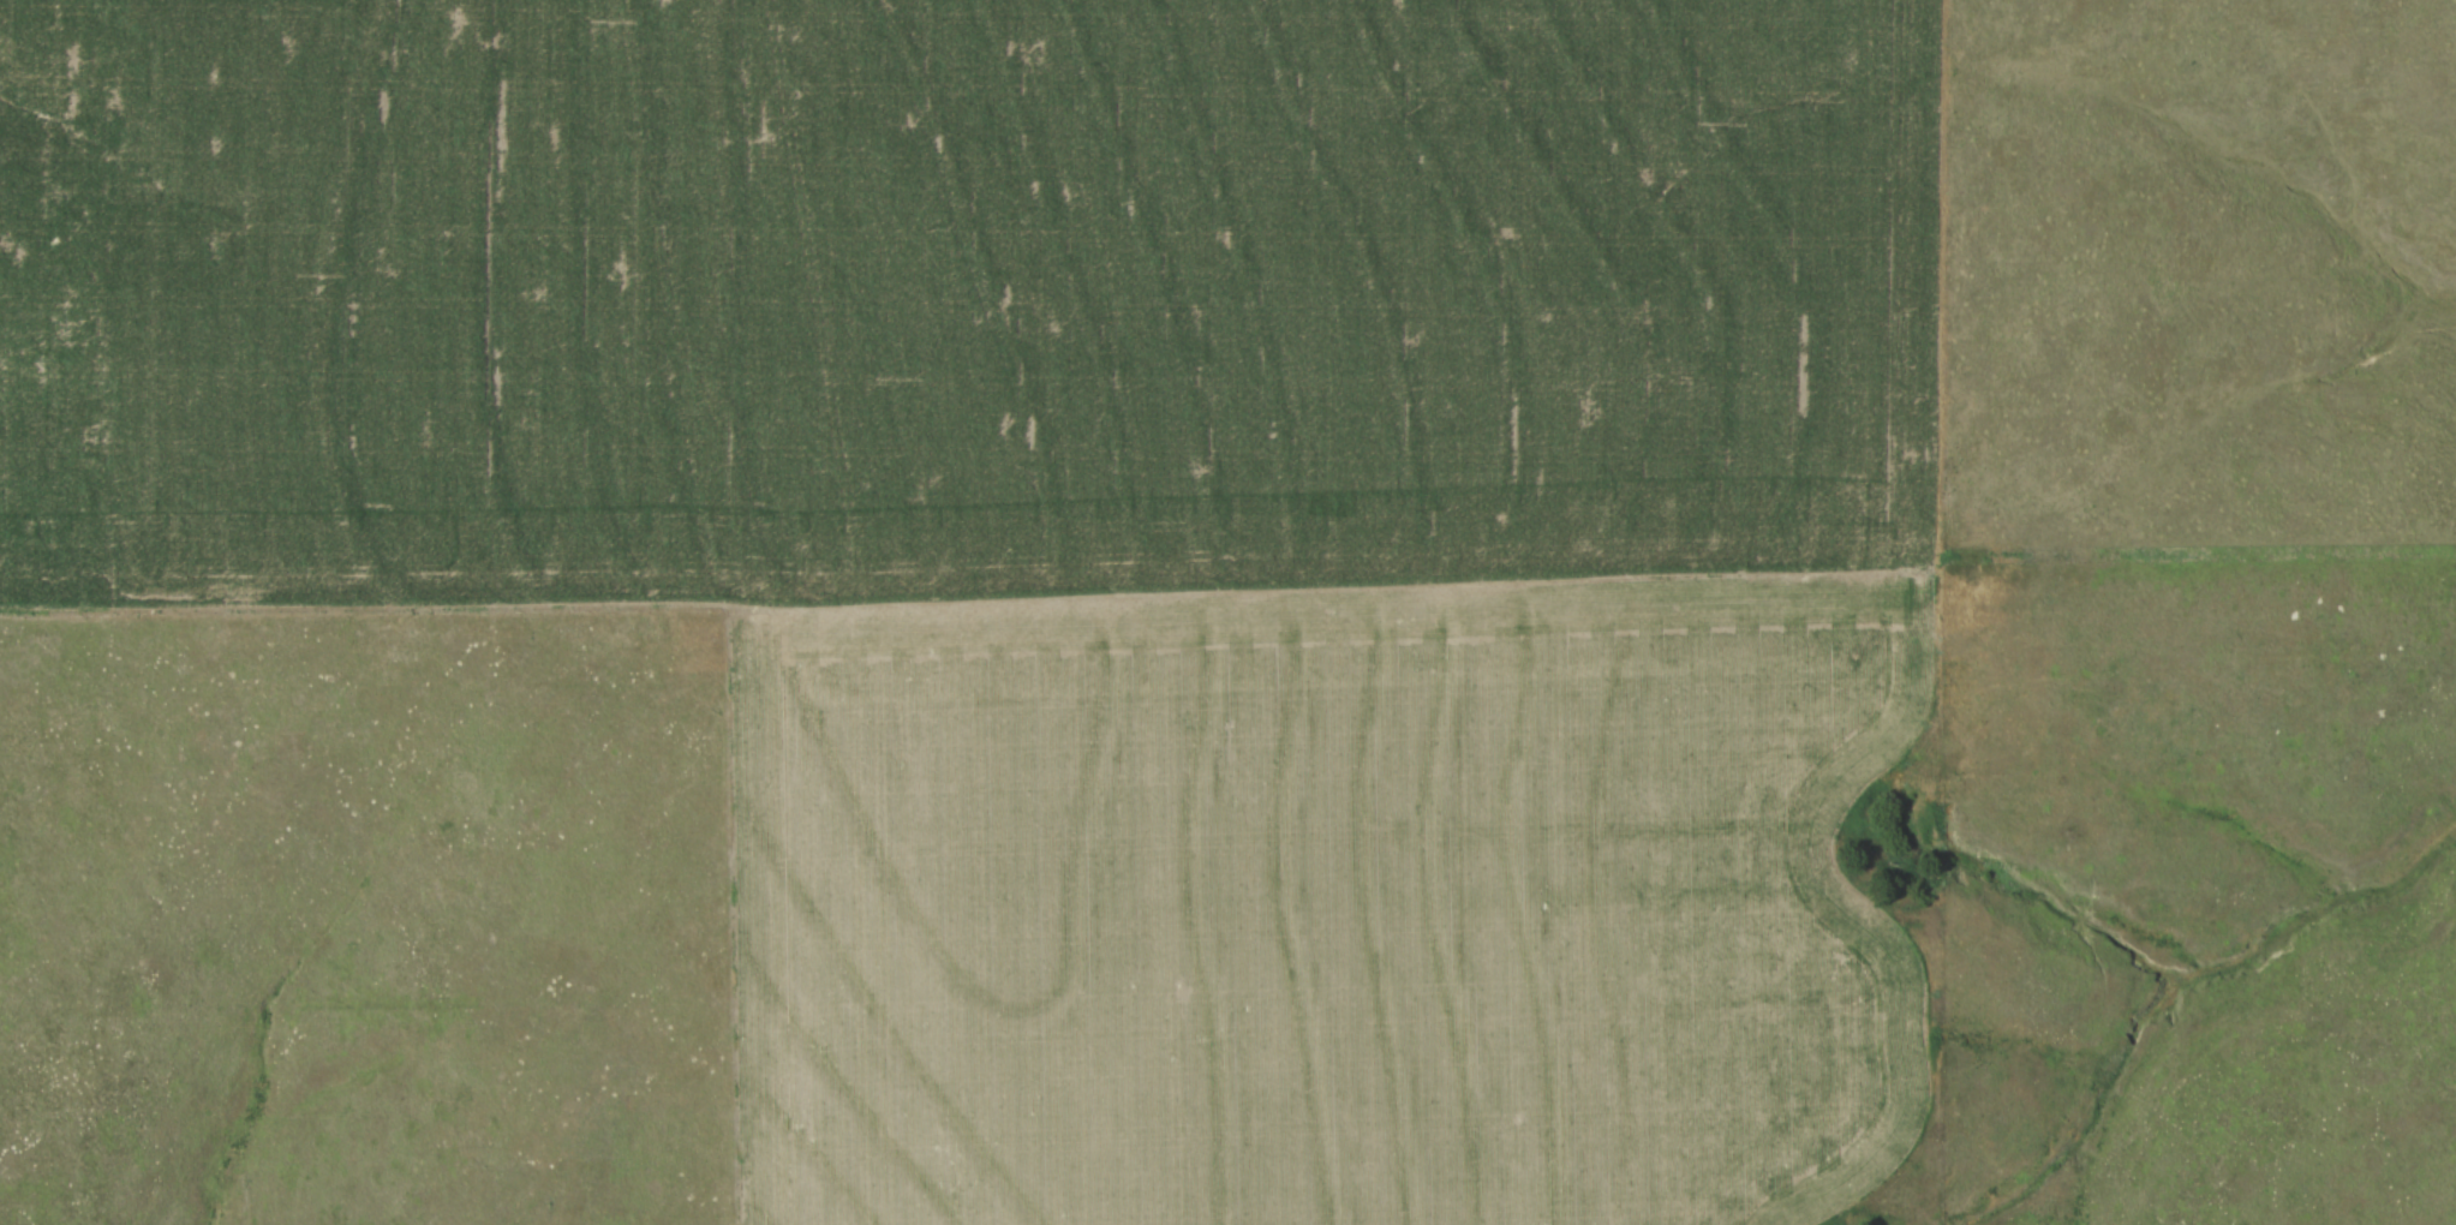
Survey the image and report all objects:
crop: (958, 286)

